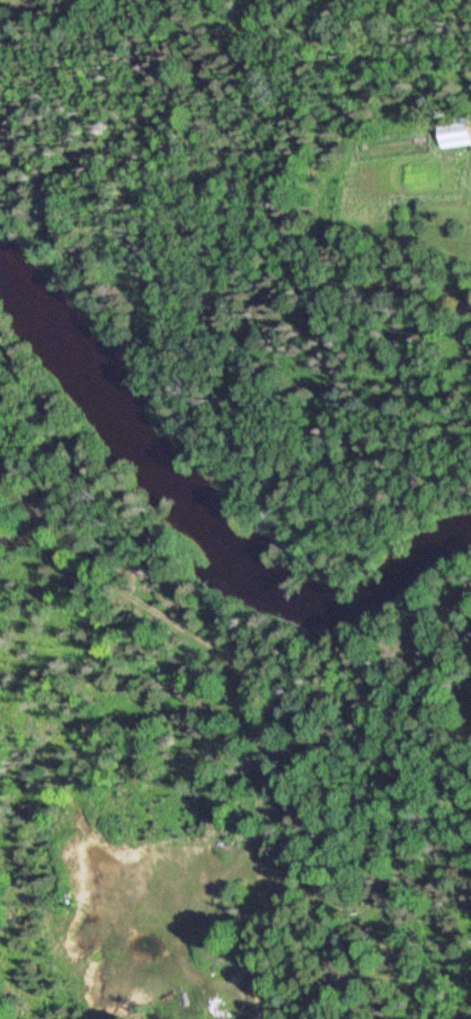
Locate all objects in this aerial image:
building: (456, 135)
river: (200, 525)

